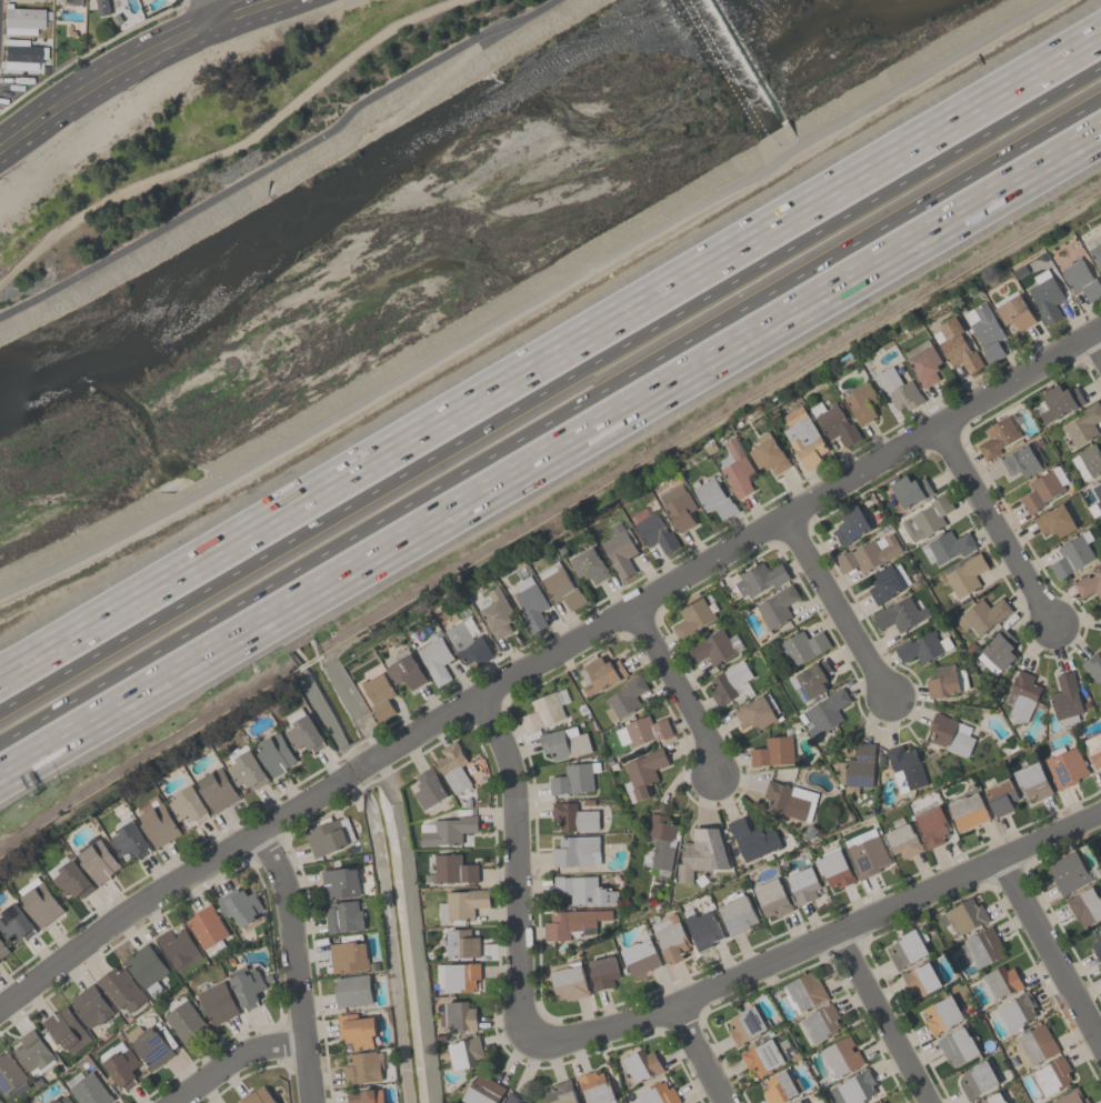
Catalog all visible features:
building: (27, 0)
building: (70, 1)
building: (102, 7)
road: (210, 17)
building: (20, 21)
building: (20, 56)
road: (117, 57)
road: (147, 66)
road: (231, 149)
road: (283, 162)
river: (401, 220)
building: (1095, 255)
building: (1081, 279)
building: (1045, 295)
road: (529, 303)
building: (1014, 310)
building: (984, 330)
road: (1094, 343)
building: (955, 345)
road: (550, 358)
building: (923, 362)
building: (898, 389)
road: (550, 394)
building: (1059, 401)
building: (861, 403)
road: (550, 421)
building: (834, 422)
building: (1082, 423)
building: (998, 437)
building: (803, 438)
building: (768, 453)
building: (1020, 461)
building: (1088, 461)
road: (552, 462)
building: (735, 468)
building: (1043, 488)
building: (910, 489)
building: (712, 498)
building: (1095, 500)
building: (679, 505)
building: (927, 518)
building: (1054, 520)
building: (850, 524)
building: (653, 529)
road: (998, 530)
building: (947, 545)
road: (731, 547)
building: (619, 551)
building: (869, 553)
building: (1072, 554)
building: (589, 565)
building: (964, 576)
building: (760, 578)
building: (888, 582)
building: (1089, 584)
building: (560, 585)
building: (530, 602)
building: (774, 608)
road: (837, 608)
building: (497, 613)
building: (900, 614)
building: (982, 614)
building: (691, 619)
building: (1100, 629)
building: (468, 644)
building: (803, 645)
building: (922, 646)
building: (711, 648)
building: (997, 651)
building: (436, 658)
building: (1093, 666)
building: (406, 671)
building: (602, 673)
building: (813, 678)
building: (728, 681)
building: (947, 681)
road: (675, 692)
building: (379, 694)
building: (1023, 695)
building: (624, 698)
building: (1065, 699)
building: (544, 710)
building: (754, 712)
building: (825, 712)
building: (638, 733)
building: (304, 734)
building: (950, 734)
building: (563, 742)
building: (1093, 750)
building: (772, 751)
building: (274, 753)
building: (859, 765)
building: (1064, 765)
building: (452, 766)
building: (904, 766)
building: (246, 770)
building: (642, 773)
building: (572, 779)
building: (1031, 781)
building: (428, 788)
building: (217, 789)
building: (1000, 796)
building: (790, 800)
building: (188, 805)
building: (968, 811)
building: (573, 816)
building: (157, 822)
building: (931, 824)
building: (446, 830)
building: (328, 835)
building: (751, 839)
building: (129, 840)
building: (660, 841)
building: (902, 841)
building: (575, 850)
building: (701, 853)
building: (867, 854)
building: (98, 861)
road: (514, 865)
building: (451, 869)
building: (833, 869)
building: (1068, 872)
building: (71, 880)
building: (340, 882)
road: (170, 884)
building: (802, 884)
building: (583, 890)
building: (771, 898)
building: (39, 901)
building: (461, 904)
building: (240, 905)
building: (1084, 905)
building: (737, 914)
building: (964, 915)
building: (343, 916)
building: (14, 922)
building: (572, 922)
building: (206, 927)
building: (702, 927)
building: (671, 940)
road: (815, 941)
building: (461, 943)
building: (1097, 945)
building: (178, 946)
building: (983, 946)
building: (3, 949)
building: (905, 949)
road: (1048, 952)
building: (640, 955)
building: (348, 956)
road: (293, 964)
building: (146, 967)
building: (602, 972)
building: (458, 976)
building: (920, 979)
building: (569, 982)
building: (1001, 982)
building: (247, 987)
building: (120, 989)
building: (352, 990)
building: (804, 991)
building: (217, 1003)
building: (90, 1005)
building: (1017, 1011)
building: (941, 1014)
building: (458, 1015)
road: (881, 1017)
building: (184, 1022)
building: (819, 1023)
building: (744, 1024)
building: (66, 1030)
building: (357, 1030)
building: (1037, 1043)
building: (149, 1045)
building: (957, 1045)
building: (466, 1052)
building: (33, 1053)
road: (699, 1055)
road: (233, 1056)
building: (841, 1056)
building: (761, 1057)
building: (642, 1064)
building: (122, 1067)
building: (362, 1067)
building: (11, 1075)
building: (1051, 1076)
building: (977, 1080)
building: (595, 1087)
building: (779, 1087)
building: (853, 1087)
building: (89, 1090)
building: (482, 1090)
building: (561, 1092)
building: (655, 1094)
building: (258, 1095)
building: (366, 1095)
building: (1071, 1096)
building: (513, 1097)
building: (993, 1099)
building: (62, 1100)
building: (798, 1102)
building: (802, 1102)
building: (881, 1102)
building: (883, 1102)

